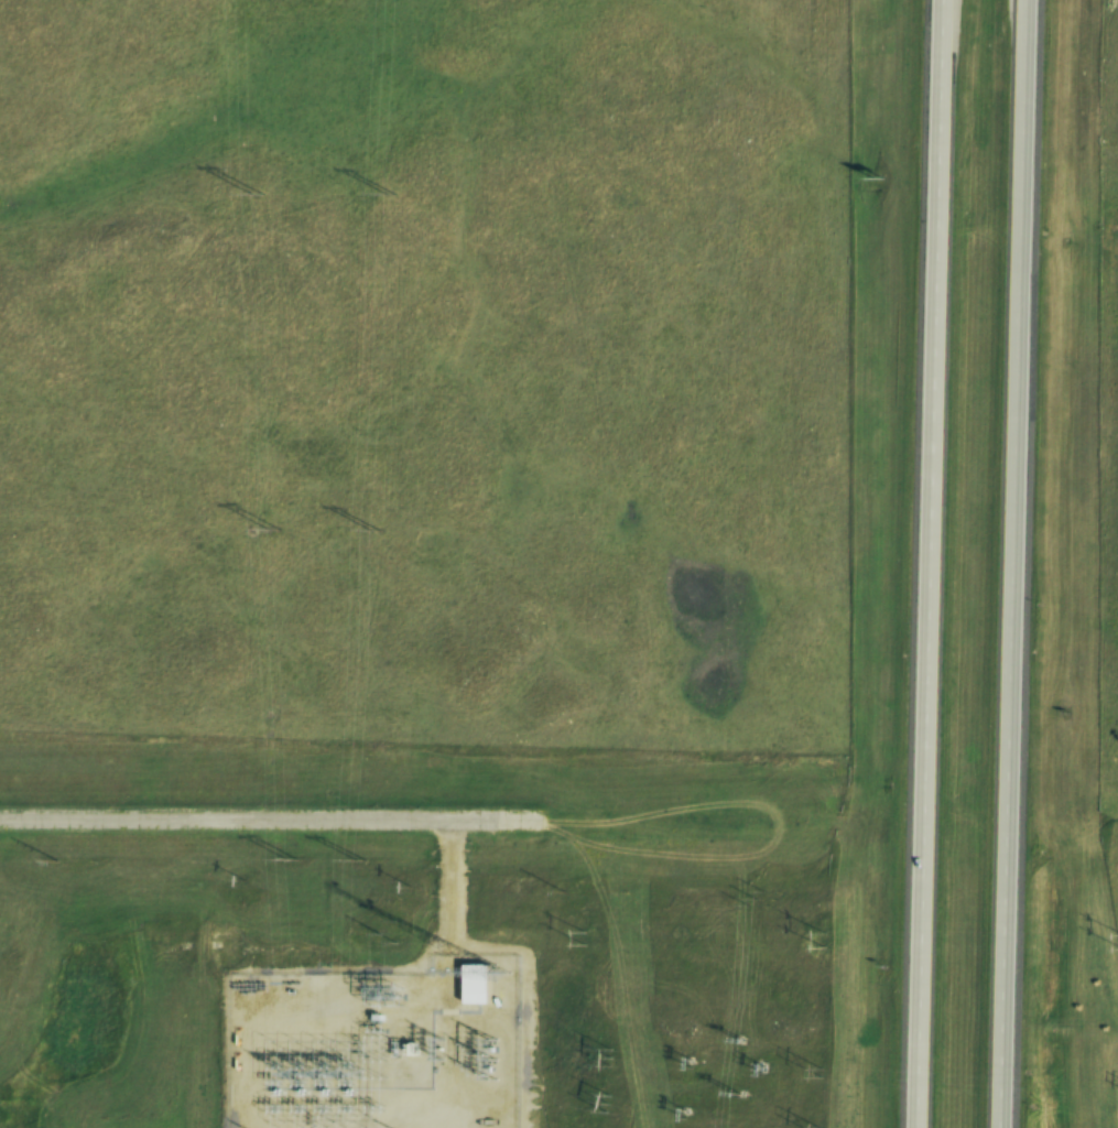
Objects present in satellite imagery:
power tower: (383, 193)
power tower: (252, 195)
power tower: (367, 529)
power tower: (269, 531)
road: (931, 564)
road: (1022, 564)
road: (251, 817)
power tower: (350, 856)
power tower: (286, 859)
power tower: (759, 898)
road: (444, 907)
building: (479, 984)
power tower: (740, 1035)
power substation: (372, 1048)
power tower: (605, 1057)
power tower: (685, 1063)
power tower: (818, 1073)
power tower: (726, 1095)
power tower: (599, 1103)
power tower: (681, 1113)

